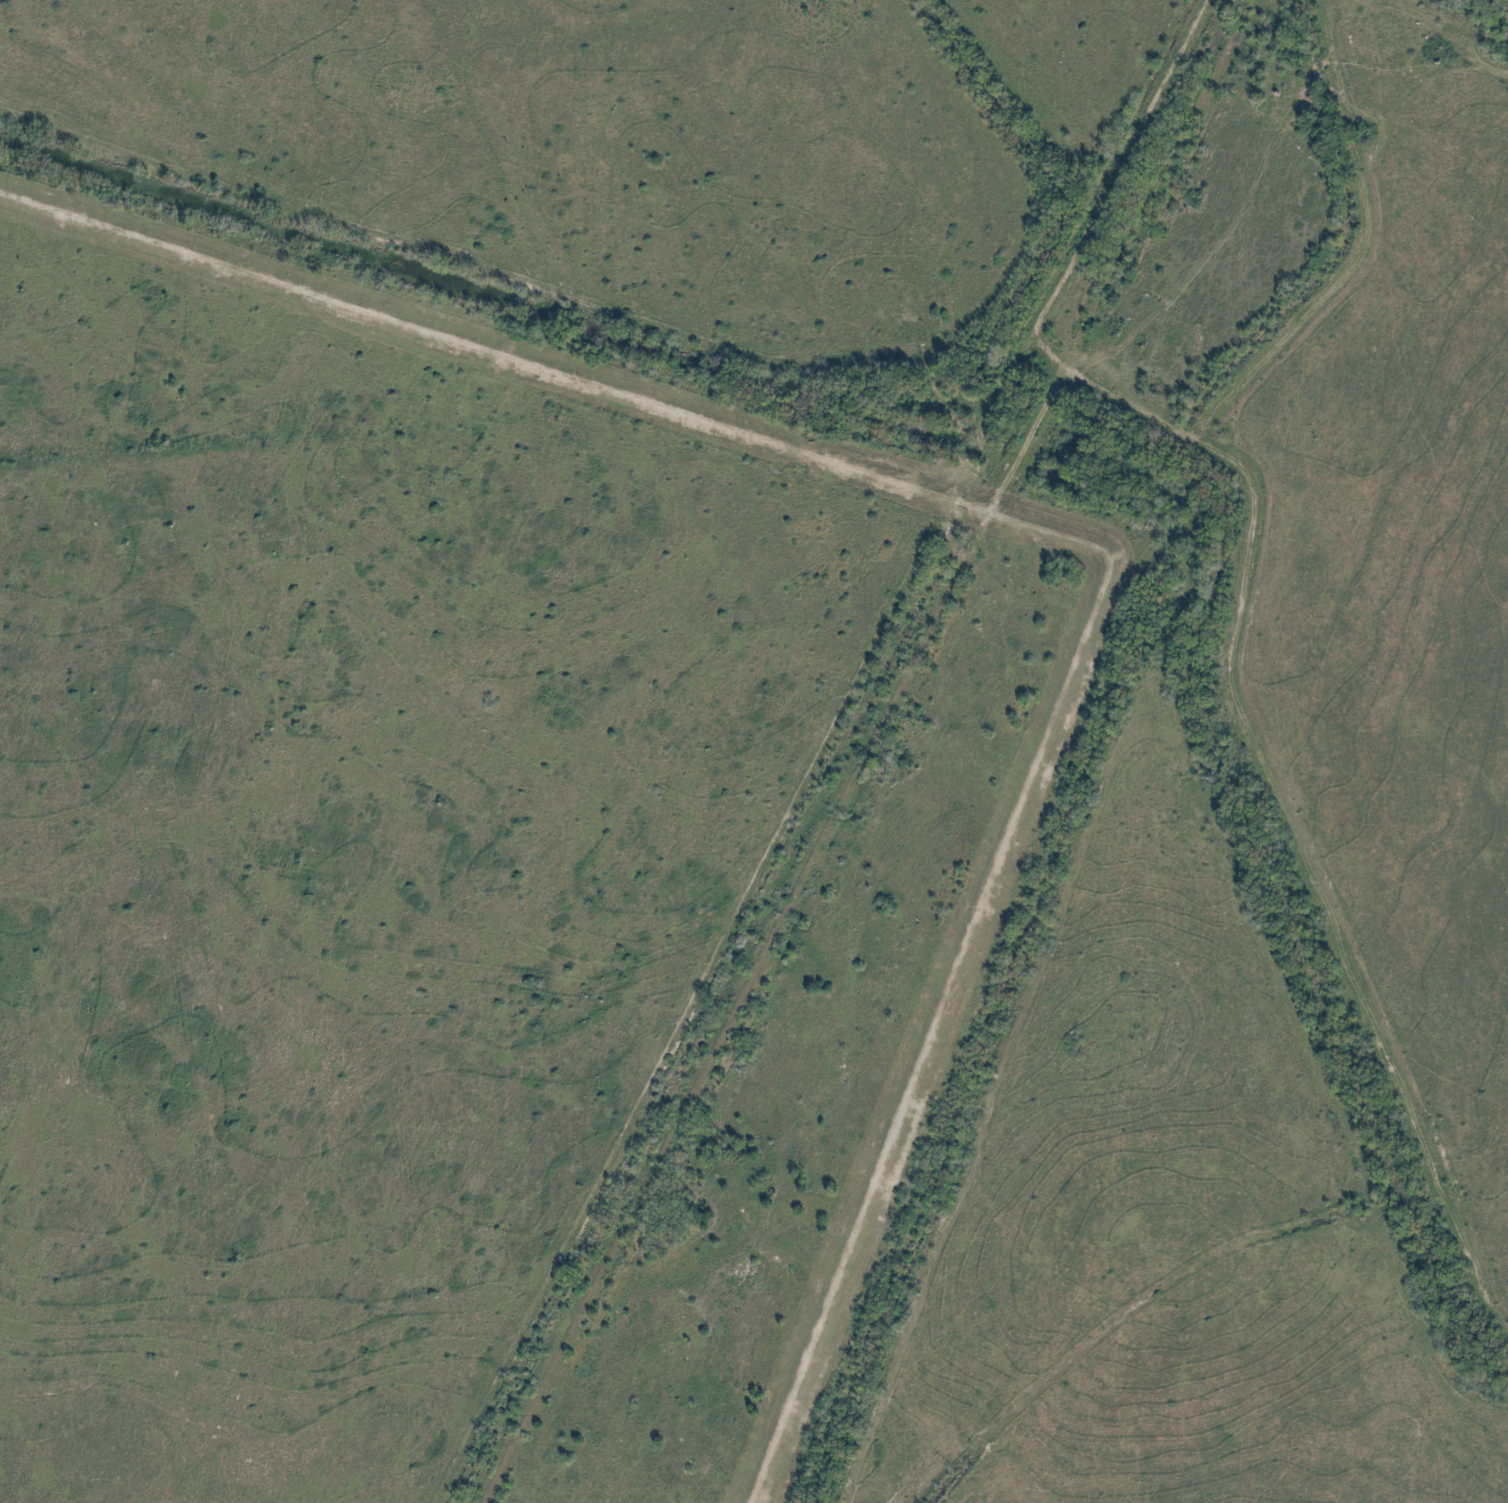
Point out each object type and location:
road: (994, 508)
railway: (865, 749)

